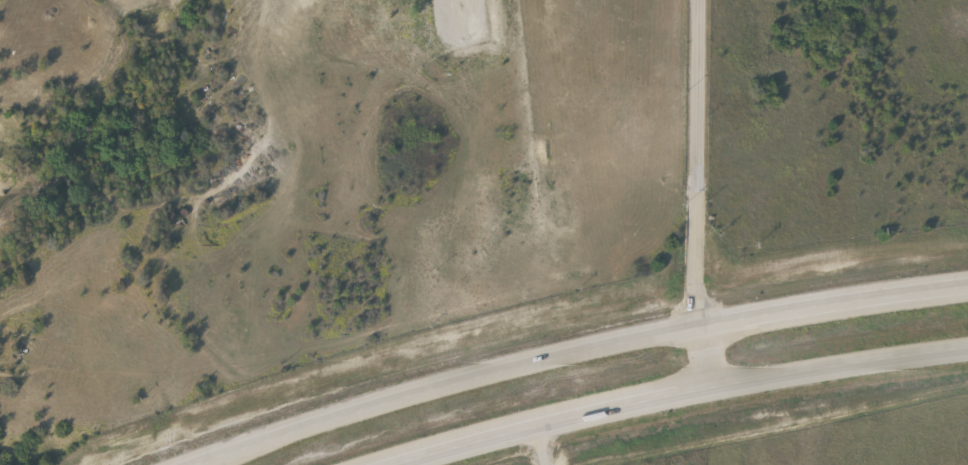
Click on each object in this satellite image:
road: (696, 195)
road: (586, 349)
road: (677, 392)
road: (515, 418)

